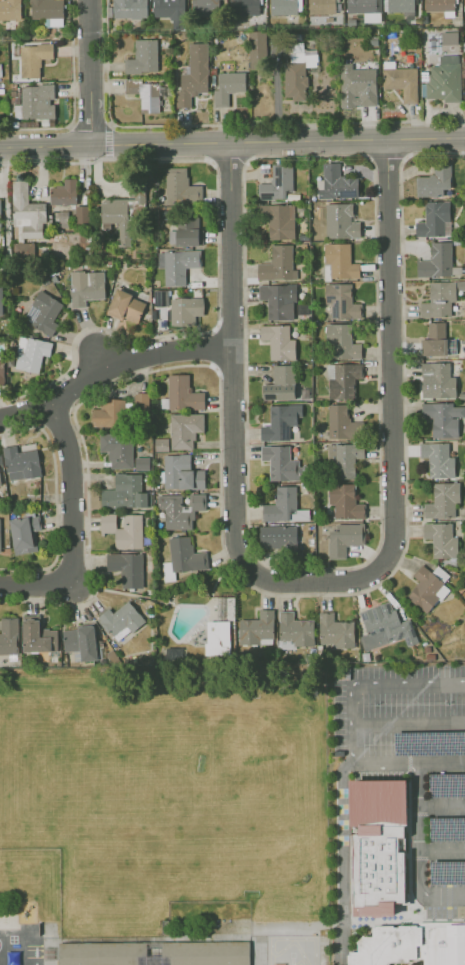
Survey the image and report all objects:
building: (400, 5)
building: (284, 6)
building: (323, 6)
building: (363, 6)
building: (442, 6)
building: (205, 7)
building: (246, 7)
building: (129, 8)
building: (10, 9)
building: (47, 11)
building: (170, 11)
building: (449, 37)
building: (257, 49)
building: (143, 57)
building: (33, 58)
building: (298, 69)
road: (93, 72)
building: (193, 75)
building: (444, 79)
building: (401, 82)
building: (357, 86)
building: (228, 87)
building: (145, 94)
road: (73, 98)
building: (35, 101)
road: (232, 145)
building: (434, 181)
building: (277, 183)
building: (336, 183)
building: (180, 187)
building: (64, 192)
road: (6, 211)
building: (26, 211)
building: (81, 213)
building: (122, 214)
building: (279, 220)
building: (434, 220)
building: (340, 221)
building: (0, 224)
building: (184, 232)
road: (239, 247)
building: (22, 250)
building: (339, 261)
building: (436, 261)
building: (277, 264)
building: (179, 265)
building: (86, 287)
building: (160, 297)
building: (440, 298)
building: (278, 300)
building: (341, 301)
building: (1, 302)
building: (126, 306)
building: (185, 310)
building: (43, 312)
building: (434, 339)
building: (278, 341)
building: (341, 342)
building: (31, 353)
road: (397, 356)
road: (140, 357)
building: (2, 372)
building: (342, 380)
building: (436, 380)
building: (280, 383)
building: (183, 393)
building: (141, 399)
road: (29, 410)
building: (109, 413)
building: (443, 418)
building: (280, 422)
building: (342, 423)
building: (184, 430)
building: (160, 444)
building: (118, 449)
building: (344, 459)
building: (438, 459)
building: (281, 462)
building: (20, 463)
building: (141, 463)
building: (181, 473)
building: (0, 482)
road: (76, 491)
building: (124, 492)
building: (442, 499)
building: (345, 501)
building: (284, 506)
building: (180, 509)
building: (123, 530)
building: (0, 532)
road: (239, 532)
building: (24, 533)
building: (278, 536)
building: (343, 538)
building: (441, 539)
building: (185, 555)
building: (126, 568)
road: (36, 581)
building: (427, 587)
building: (120, 620)
building: (384, 626)
building: (256, 628)
building: (296, 629)
building: (335, 630)
building: (8, 635)
building: (37, 635)
building: (217, 637)
building: (80, 642)
road: (369, 681)
building: (412, 703)
road: (409, 723)
building: (429, 742)
road: (409, 761)
building: (447, 785)
road: (442, 806)
building: (447, 828)
building: (378, 845)
road: (420, 849)
road: (442, 850)
road: (342, 859)
building: (447, 873)
road: (445, 918)
road: (272, 938)
building: (412, 944)
building: (154, 953)
road: (292, 959)
road: (298, 962)

